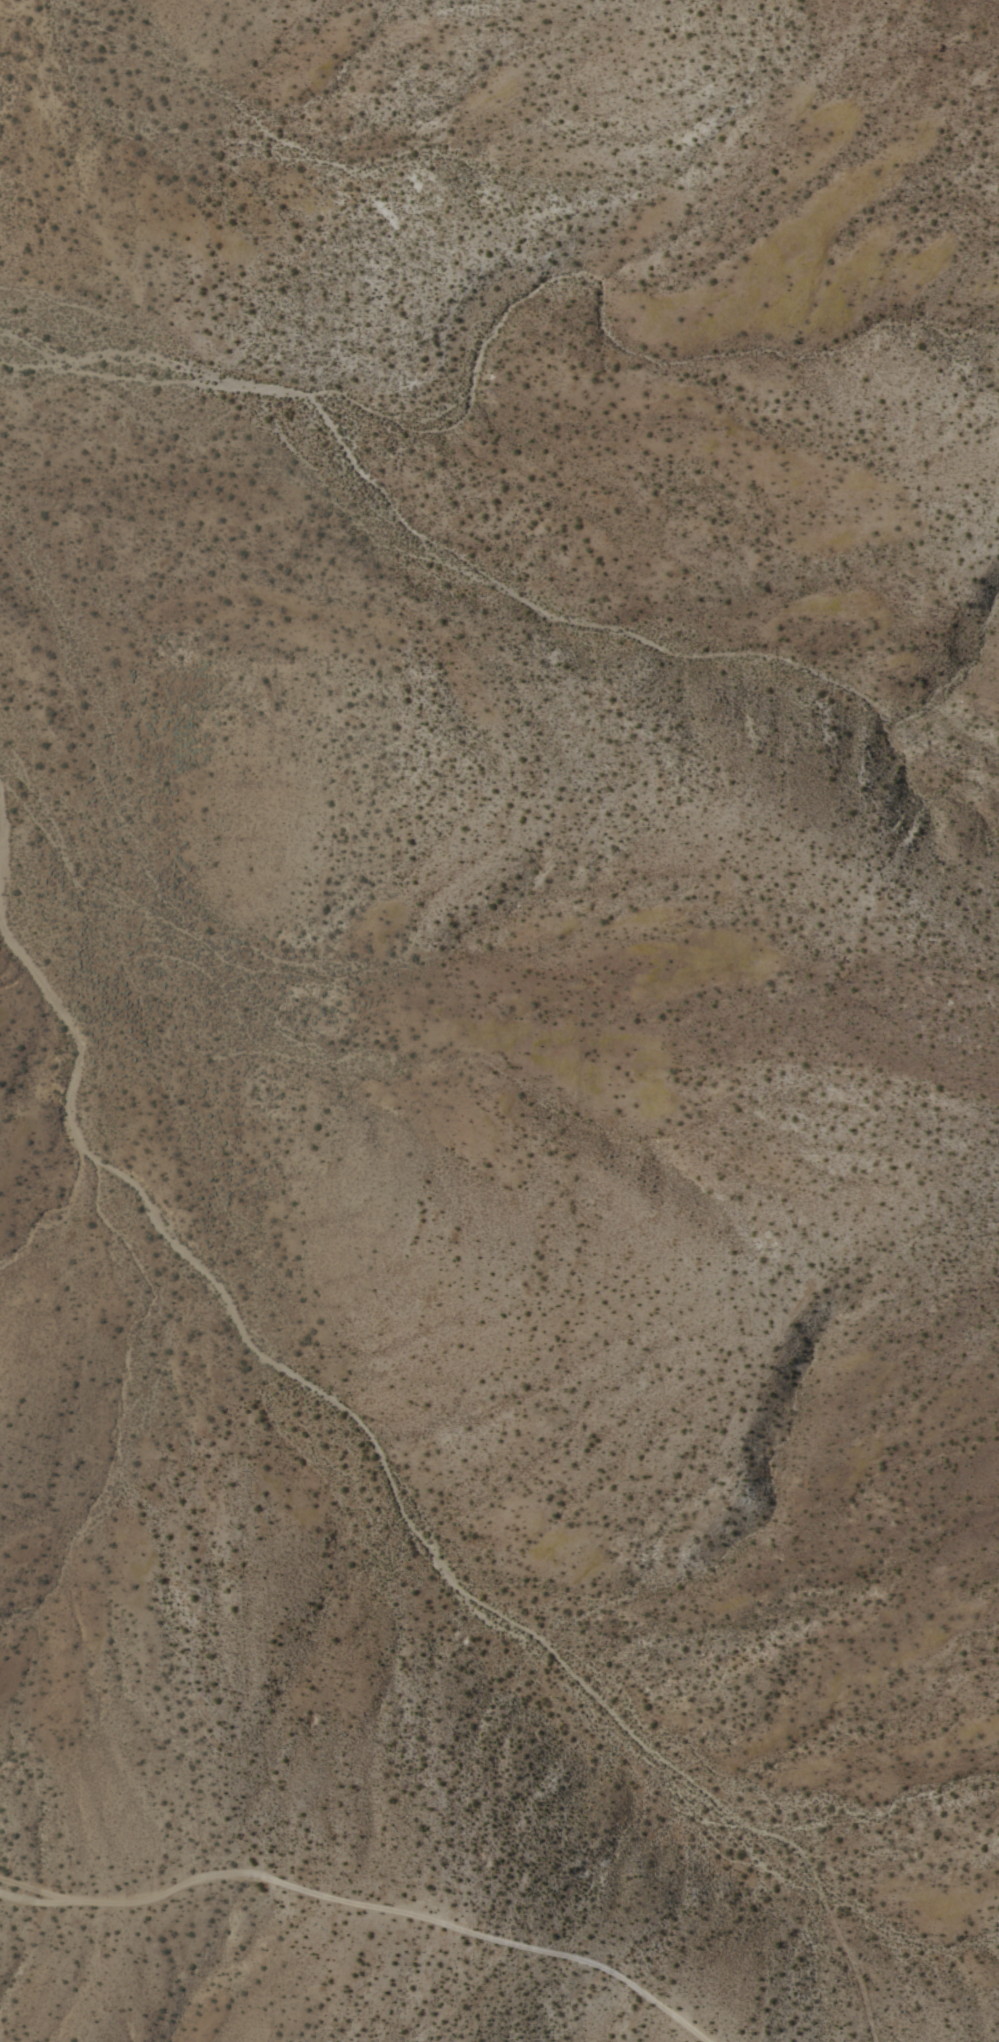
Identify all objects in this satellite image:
road: (34, 1902)
road: (364, 1904)

